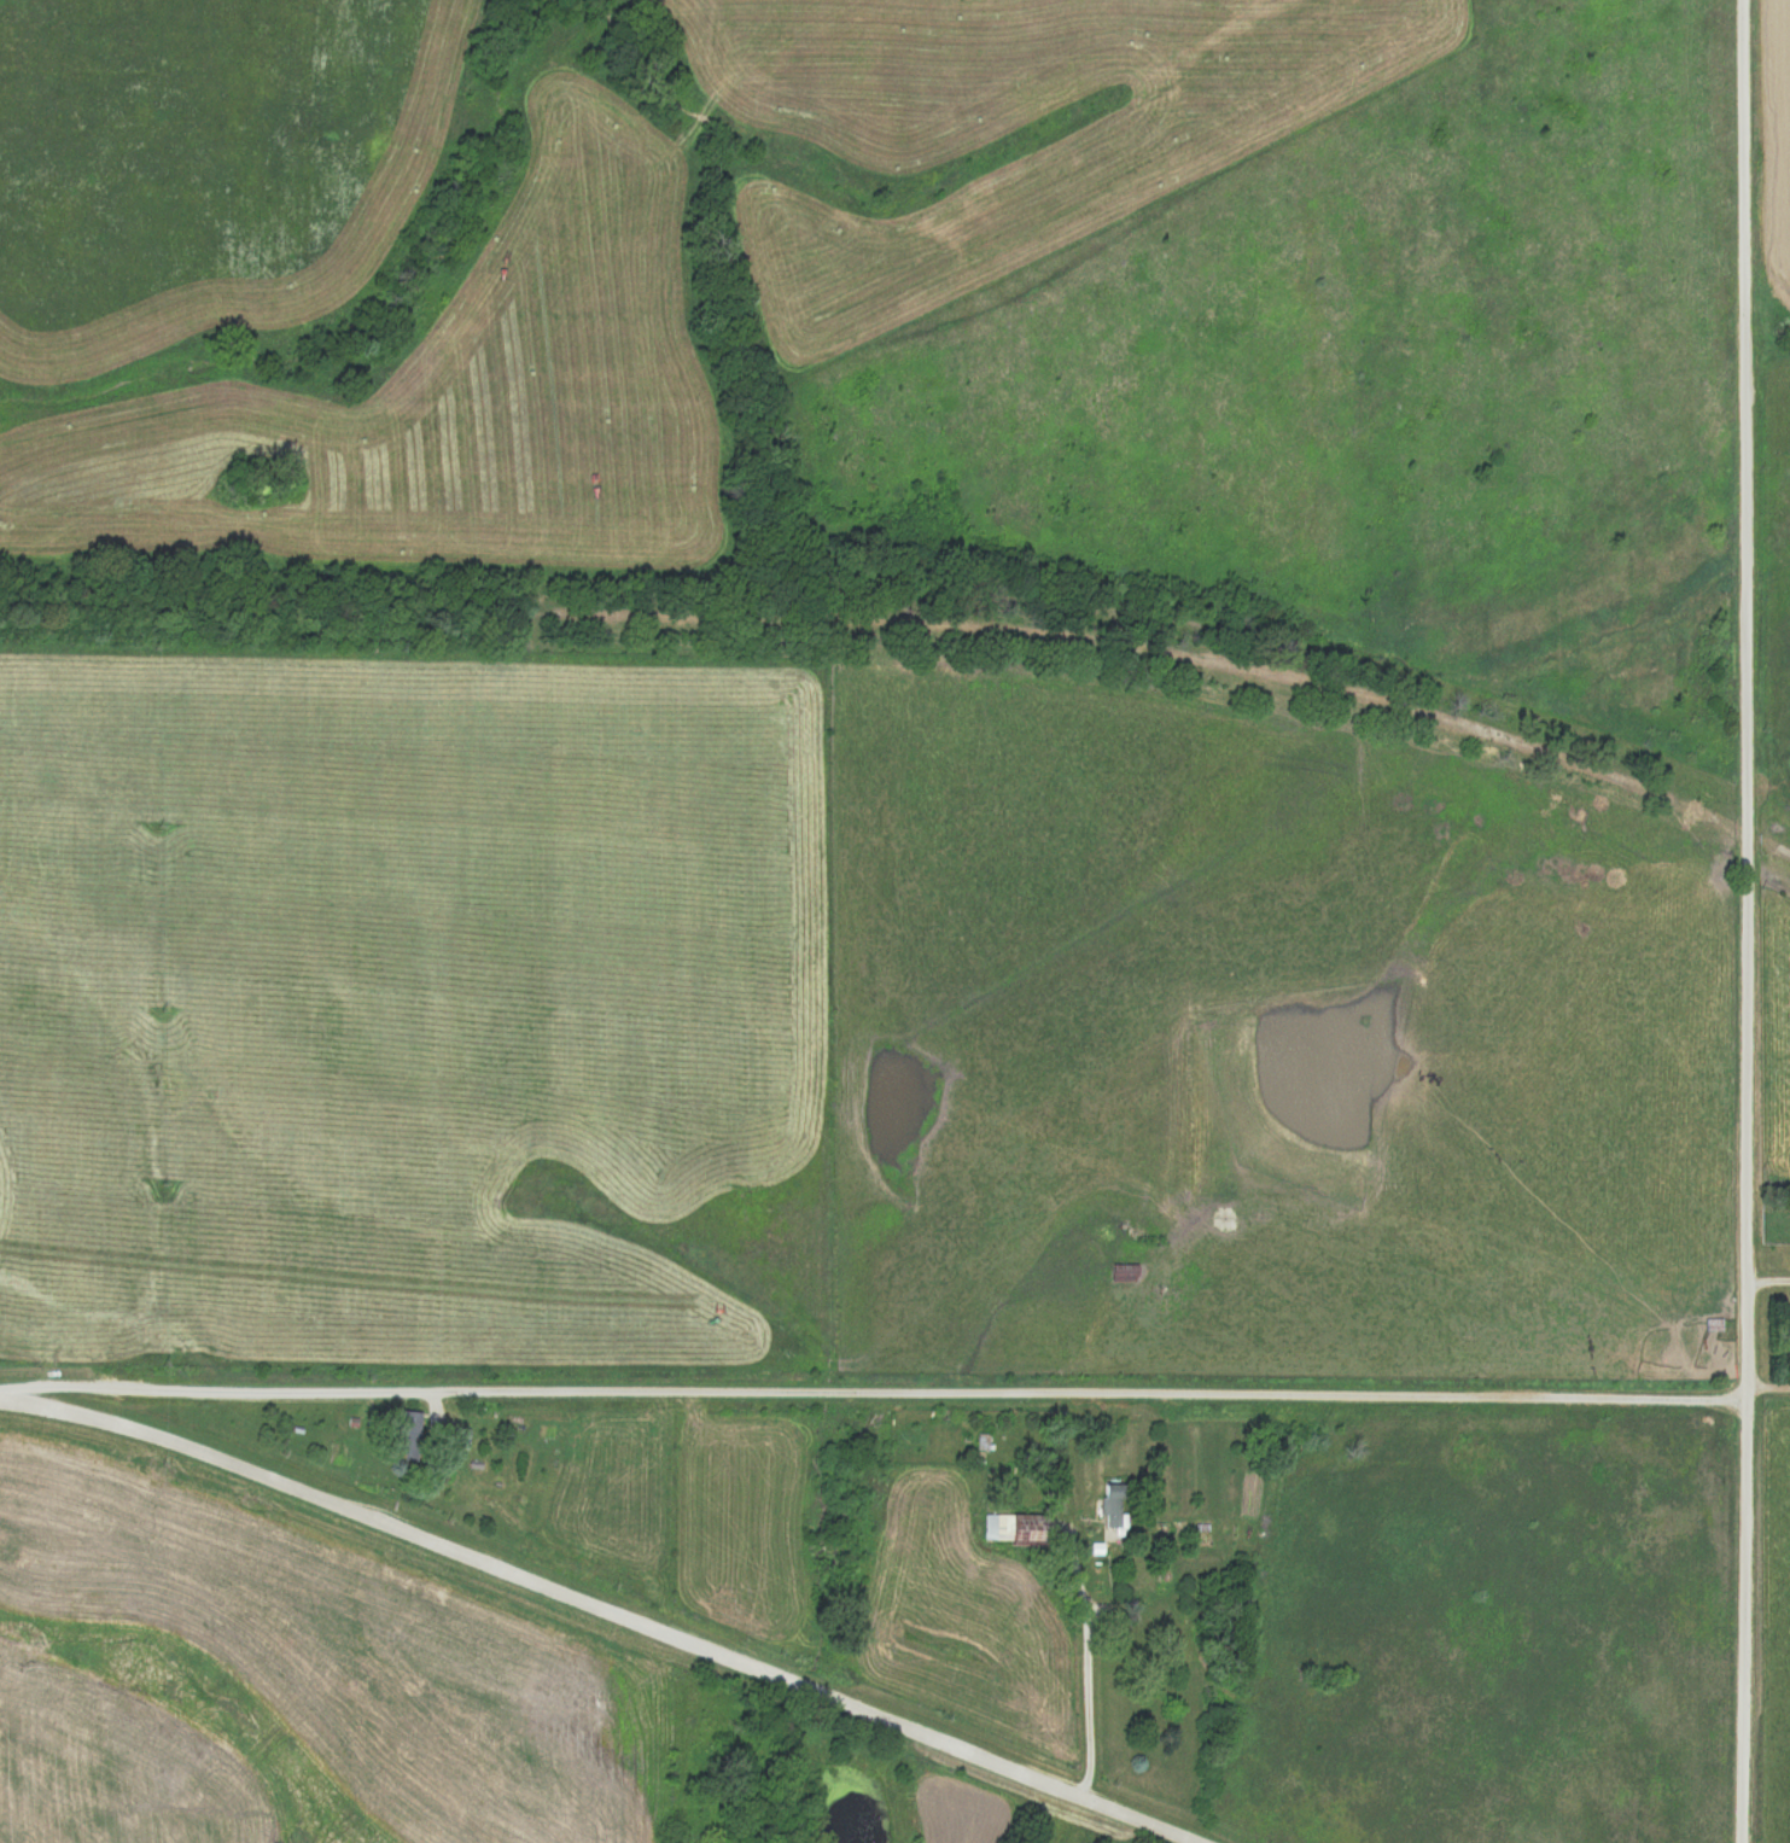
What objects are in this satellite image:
road: (1741, 921)
crop: (406, 996)
building: (1124, 1271)
road: (1767, 1278)
road: (874, 1394)
building: (407, 1435)
building: (910, 1439)
building: (1113, 1511)
road: (610, 1608)

